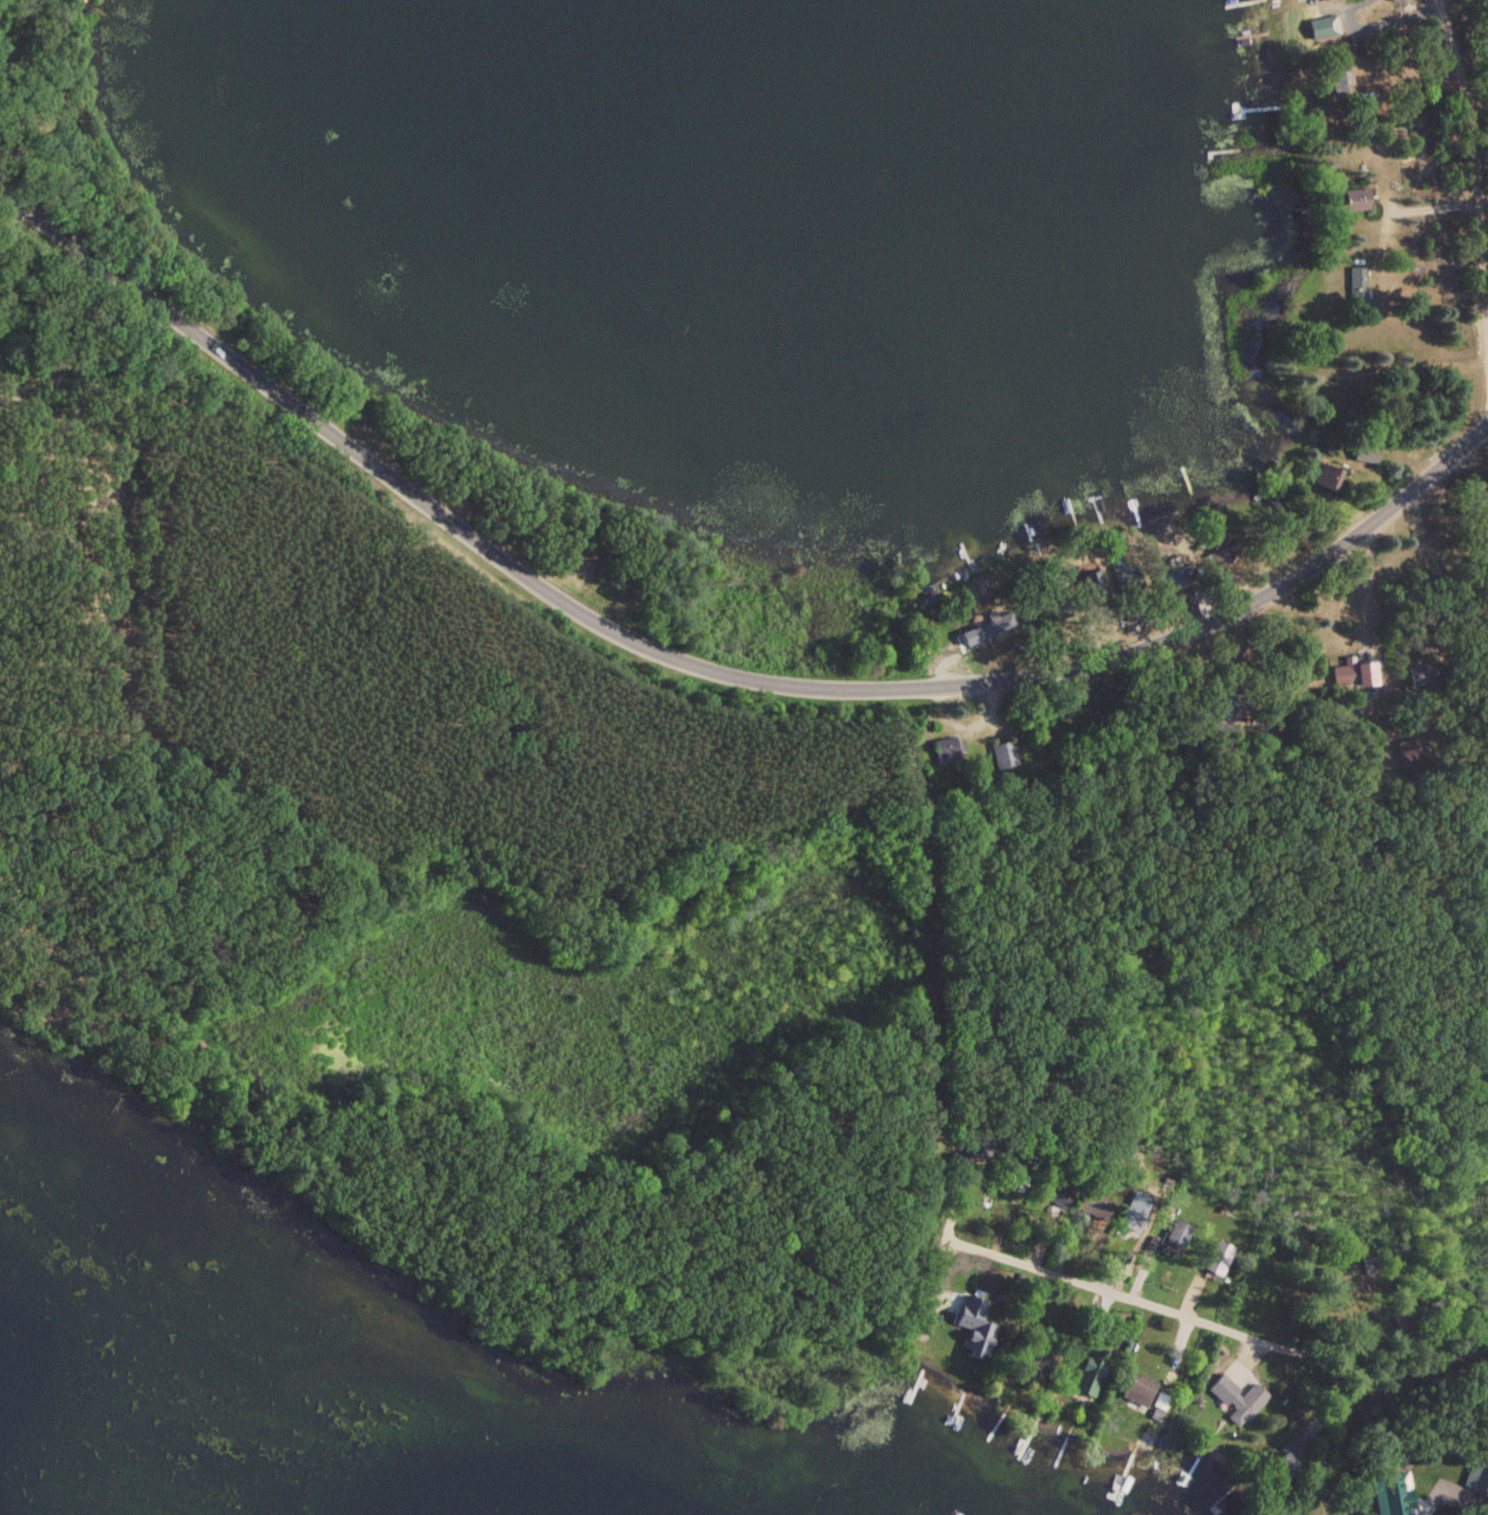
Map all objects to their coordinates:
building: (1291, 0)
building: (1327, 26)
building: (1340, 85)
road: (1461, 147)
building: (1356, 284)
building: (1352, 401)
building: (1365, 453)
building: (1326, 477)
building: (1125, 578)
building: (993, 624)
road: (707, 642)
building: (1356, 675)
building: (1418, 675)
road: (1412, 693)
building: (1000, 757)
road: (113, 938)
building: (1175, 1234)
building: (1217, 1258)
road: (1218, 1300)
building: (1137, 1389)
building: (1236, 1399)
building: (1158, 1401)
building: (1288, 1460)
building: (1471, 1477)

